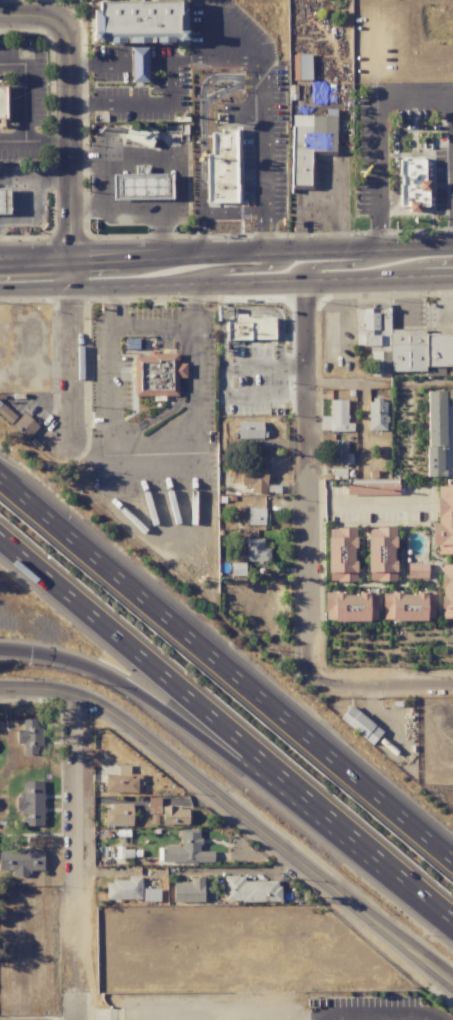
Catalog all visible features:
building: (138, 21)
road: (205, 59)
road: (96, 64)
building: (139, 65)
road: (139, 65)
road: (232, 89)
building: (3, 101)
road: (137, 102)
road: (24, 111)
road: (263, 120)
road: (233, 128)
road: (202, 136)
road: (377, 136)
road: (12, 142)
building: (308, 144)
road: (395, 147)
road: (117, 155)
building: (222, 168)
road: (17, 173)
road: (100, 180)
building: (412, 183)
building: (141, 186)
road: (158, 187)
road: (34, 197)
road: (66, 199)
building: (4, 201)
road: (113, 211)
road: (162, 230)
road: (426, 250)
road: (366, 253)
road: (34, 258)
road: (200, 260)
road: (314, 264)
road: (34, 267)
road: (245, 271)
road: (419, 276)
road: (192, 283)
road: (338, 316)
road: (152, 326)
building: (249, 328)
building: (400, 345)
building: (157, 375)
building: (6, 413)
building: (377, 416)
building: (336, 417)
building: (25, 426)
building: (251, 429)
building: (435, 434)
road: (151, 446)
road: (90, 448)
building: (338, 452)
building: (256, 476)
road: (309, 483)
building: (373, 487)
building: (255, 516)
building: (443, 521)
building: (256, 550)
building: (381, 554)
building: (342, 555)
building: (417, 570)
building: (446, 591)
building: (408, 605)
building: (351, 606)
road: (226, 668)
road: (384, 687)
road: (61, 690)
building: (360, 725)
road: (226, 728)
building: (29, 737)
road: (234, 759)
building: (123, 781)
building: (31, 803)
building: (118, 815)
building: (175, 815)
building: (188, 849)
road: (285, 850)
road: (72, 855)
building: (21, 861)
road: (247, 868)
building: (126, 889)
building: (189, 890)
building: (250, 890)
road: (380, 1016)

